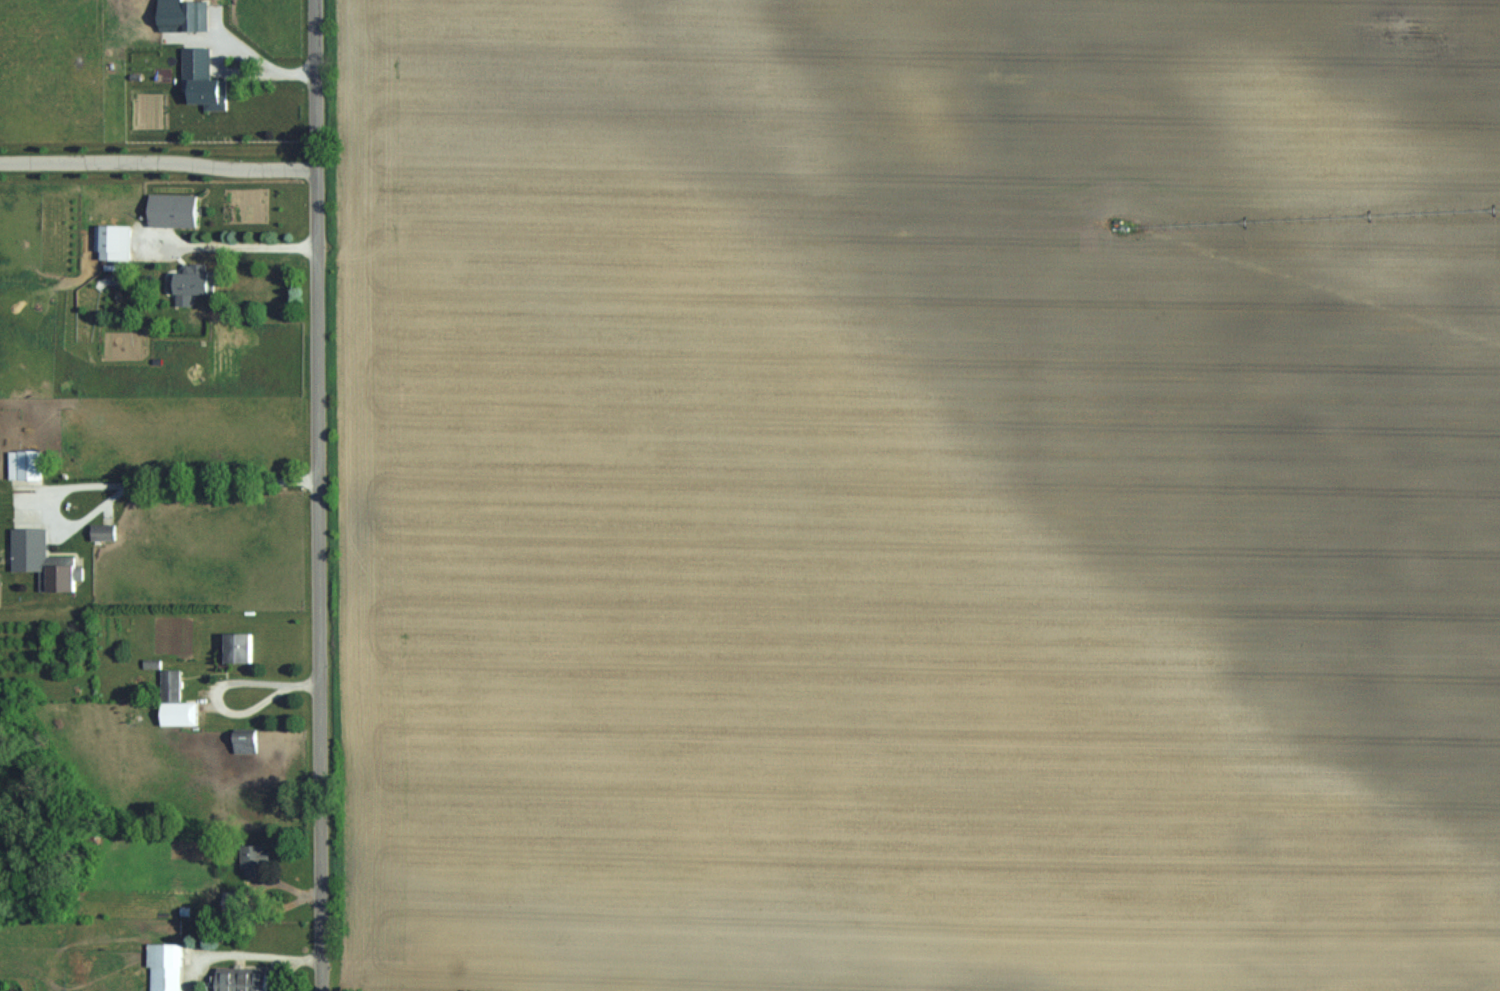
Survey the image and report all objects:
building: (184, 15)
road: (222, 62)
building: (203, 79)
road: (158, 165)
building: (173, 209)
building: (114, 241)
road: (238, 241)
building: (188, 284)
building: (31, 463)
road: (130, 482)
crop: (921, 494)
road: (318, 495)
building: (104, 531)
building: (59, 572)
building: (240, 646)
building: (171, 684)
road: (234, 696)
building: (246, 740)
building: (253, 858)
building: (165, 966)
building: (241, 978)

